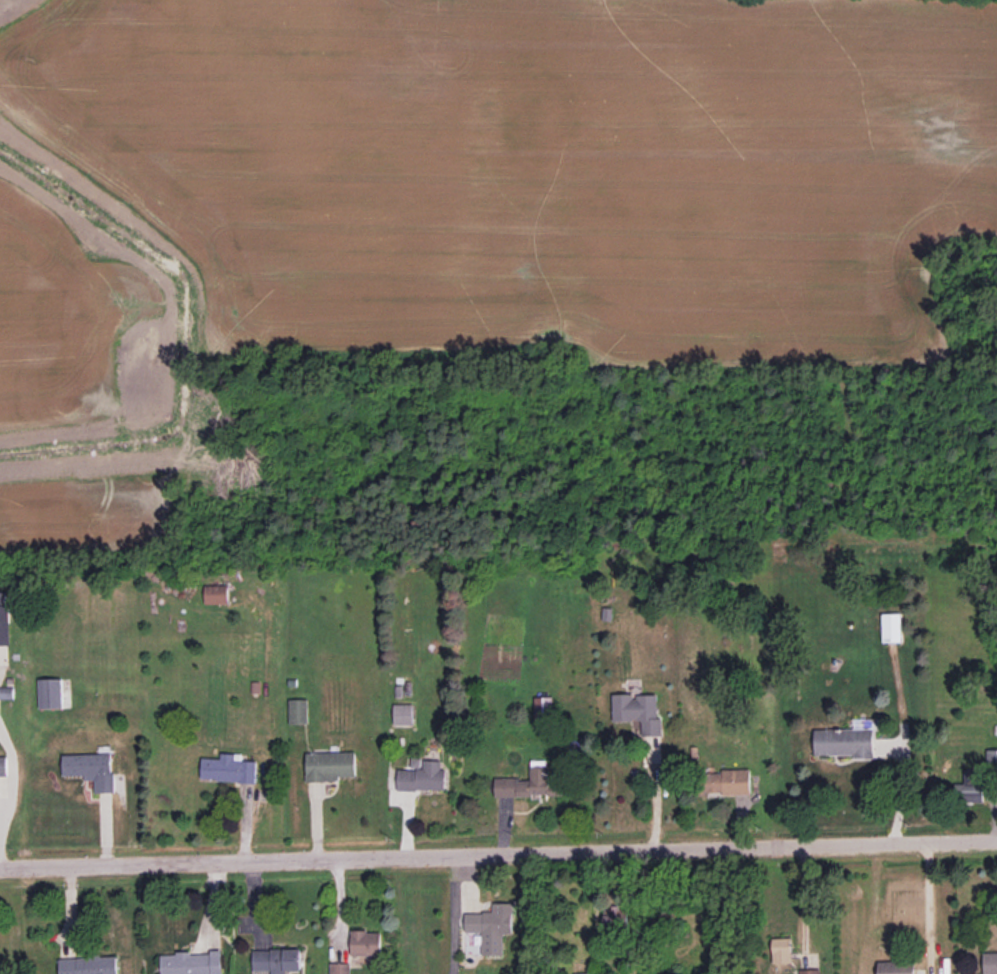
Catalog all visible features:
building: (215, 594)
building: (4, 621)
building: (891, 627)
building: (49, 692)
building: (543, 708)
building: (297, 711)
building: (638, 711)
building: (402, 713)
building: (845, 742)
building: (991, 758)
building: (329, 765)
building: (3, 766)
building: (91, 768)
building: (227, 768)
building: (421, 775)
building: (726, 780)
building: (528, 784)
road: (903, 786)
building: (969, 786)
road: (657, 787)
road: (498, 852)
road: (930, 904)
road: (456, 914)
building: (612, 915)
building: (490, 926)
building: (365, 942)
building: (781, 949)
building: (276, 959)
building: (989, 962)
building: (191, 963)
building: (88, 965)
building: (896, 967)
building: (339, 968)
building: (809, 971)
building: (586, 973)

